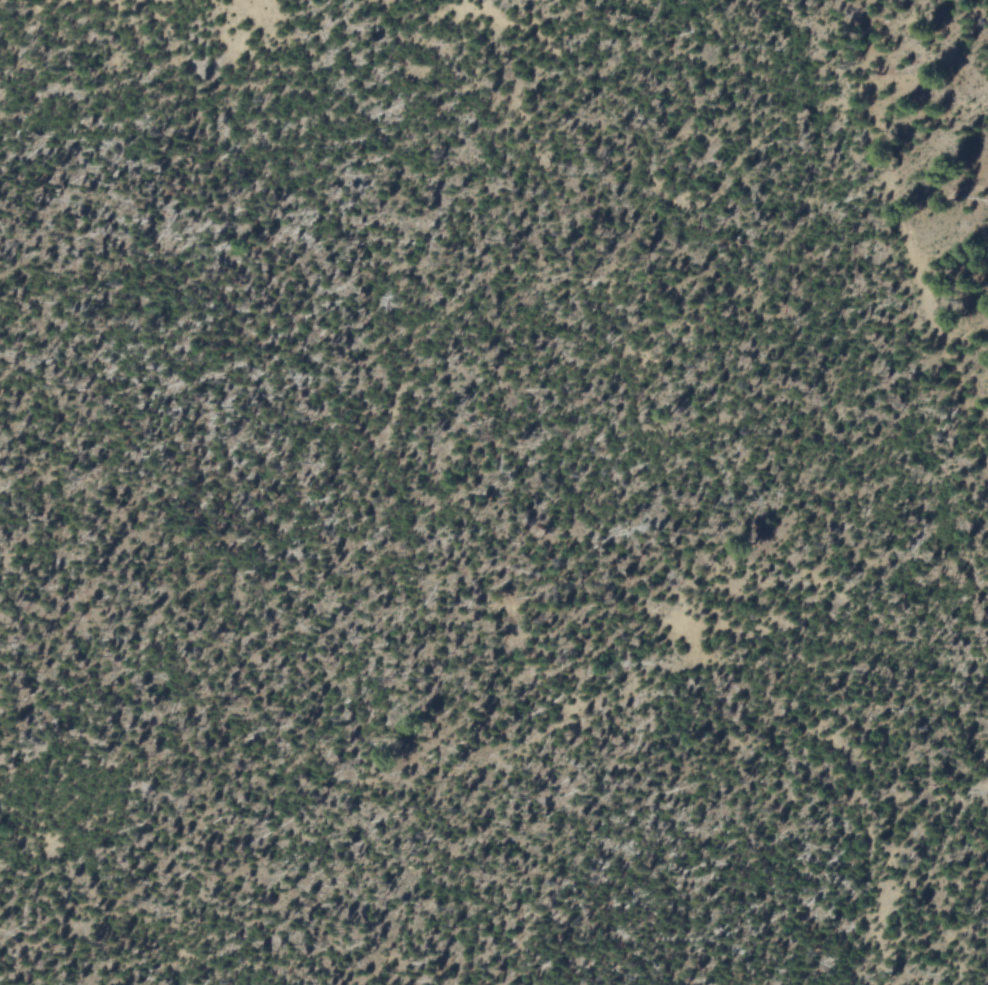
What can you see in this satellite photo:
road: (909, 253)

